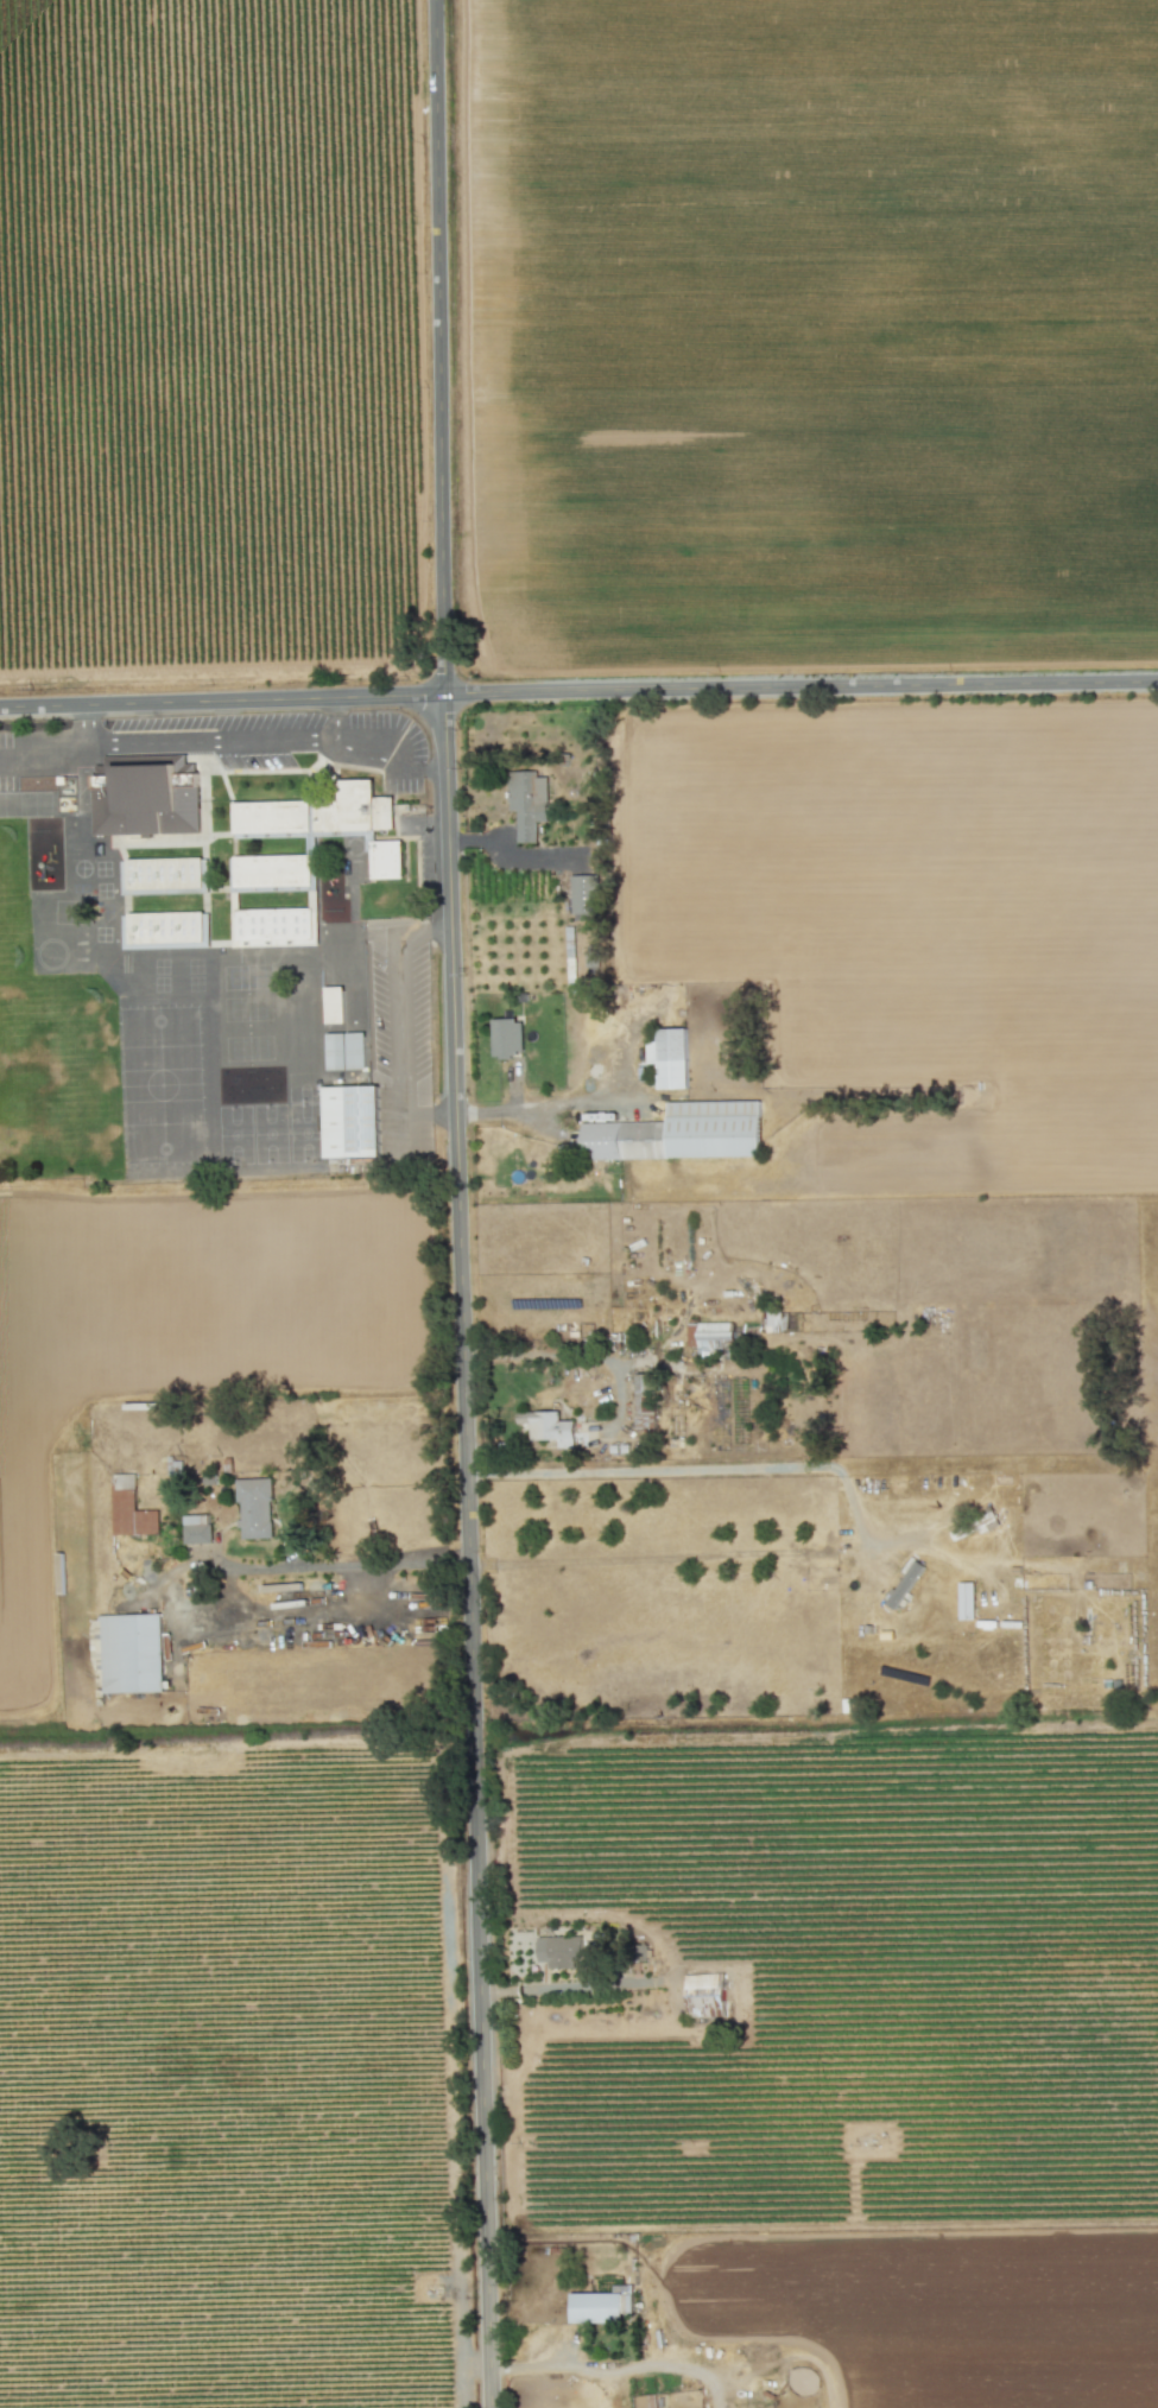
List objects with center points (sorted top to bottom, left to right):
road: (578, 691)
road: (334, 718)
road: (83, 725)
road: (271, 742)
road: (42, 749)
building: (144, 803)
building: (526, 803)
building: (314, 835)
road: (505, 860)
building: (164, 875)
building: (583, 894)
building: (272, 927)
building: (163, 930)
building: (590, 959)
building: (334, 1005)
road: (400, 1026)
building: (507, 1038)
building: (344, 1051)
building: (669, 1058)
road: (517, 1110)
building: (350, 1122)
building: (679, 1134)
road: (460, 1204)
building: (709, 1337)
building: (643, 1402)
building: (548, 1427)
road: (695, 1468)
building: (254, 1508)
building: (129, 1509)
building: (196, 1529)
road: (681, 1557)
road: (305, 1567)
building: (904, 1584)
building: (966, 1601)
building: (131, 1654)
building: (558, 1951)
building: (704, 1996)
building: (595, 2308)
road: (614, 2374)

